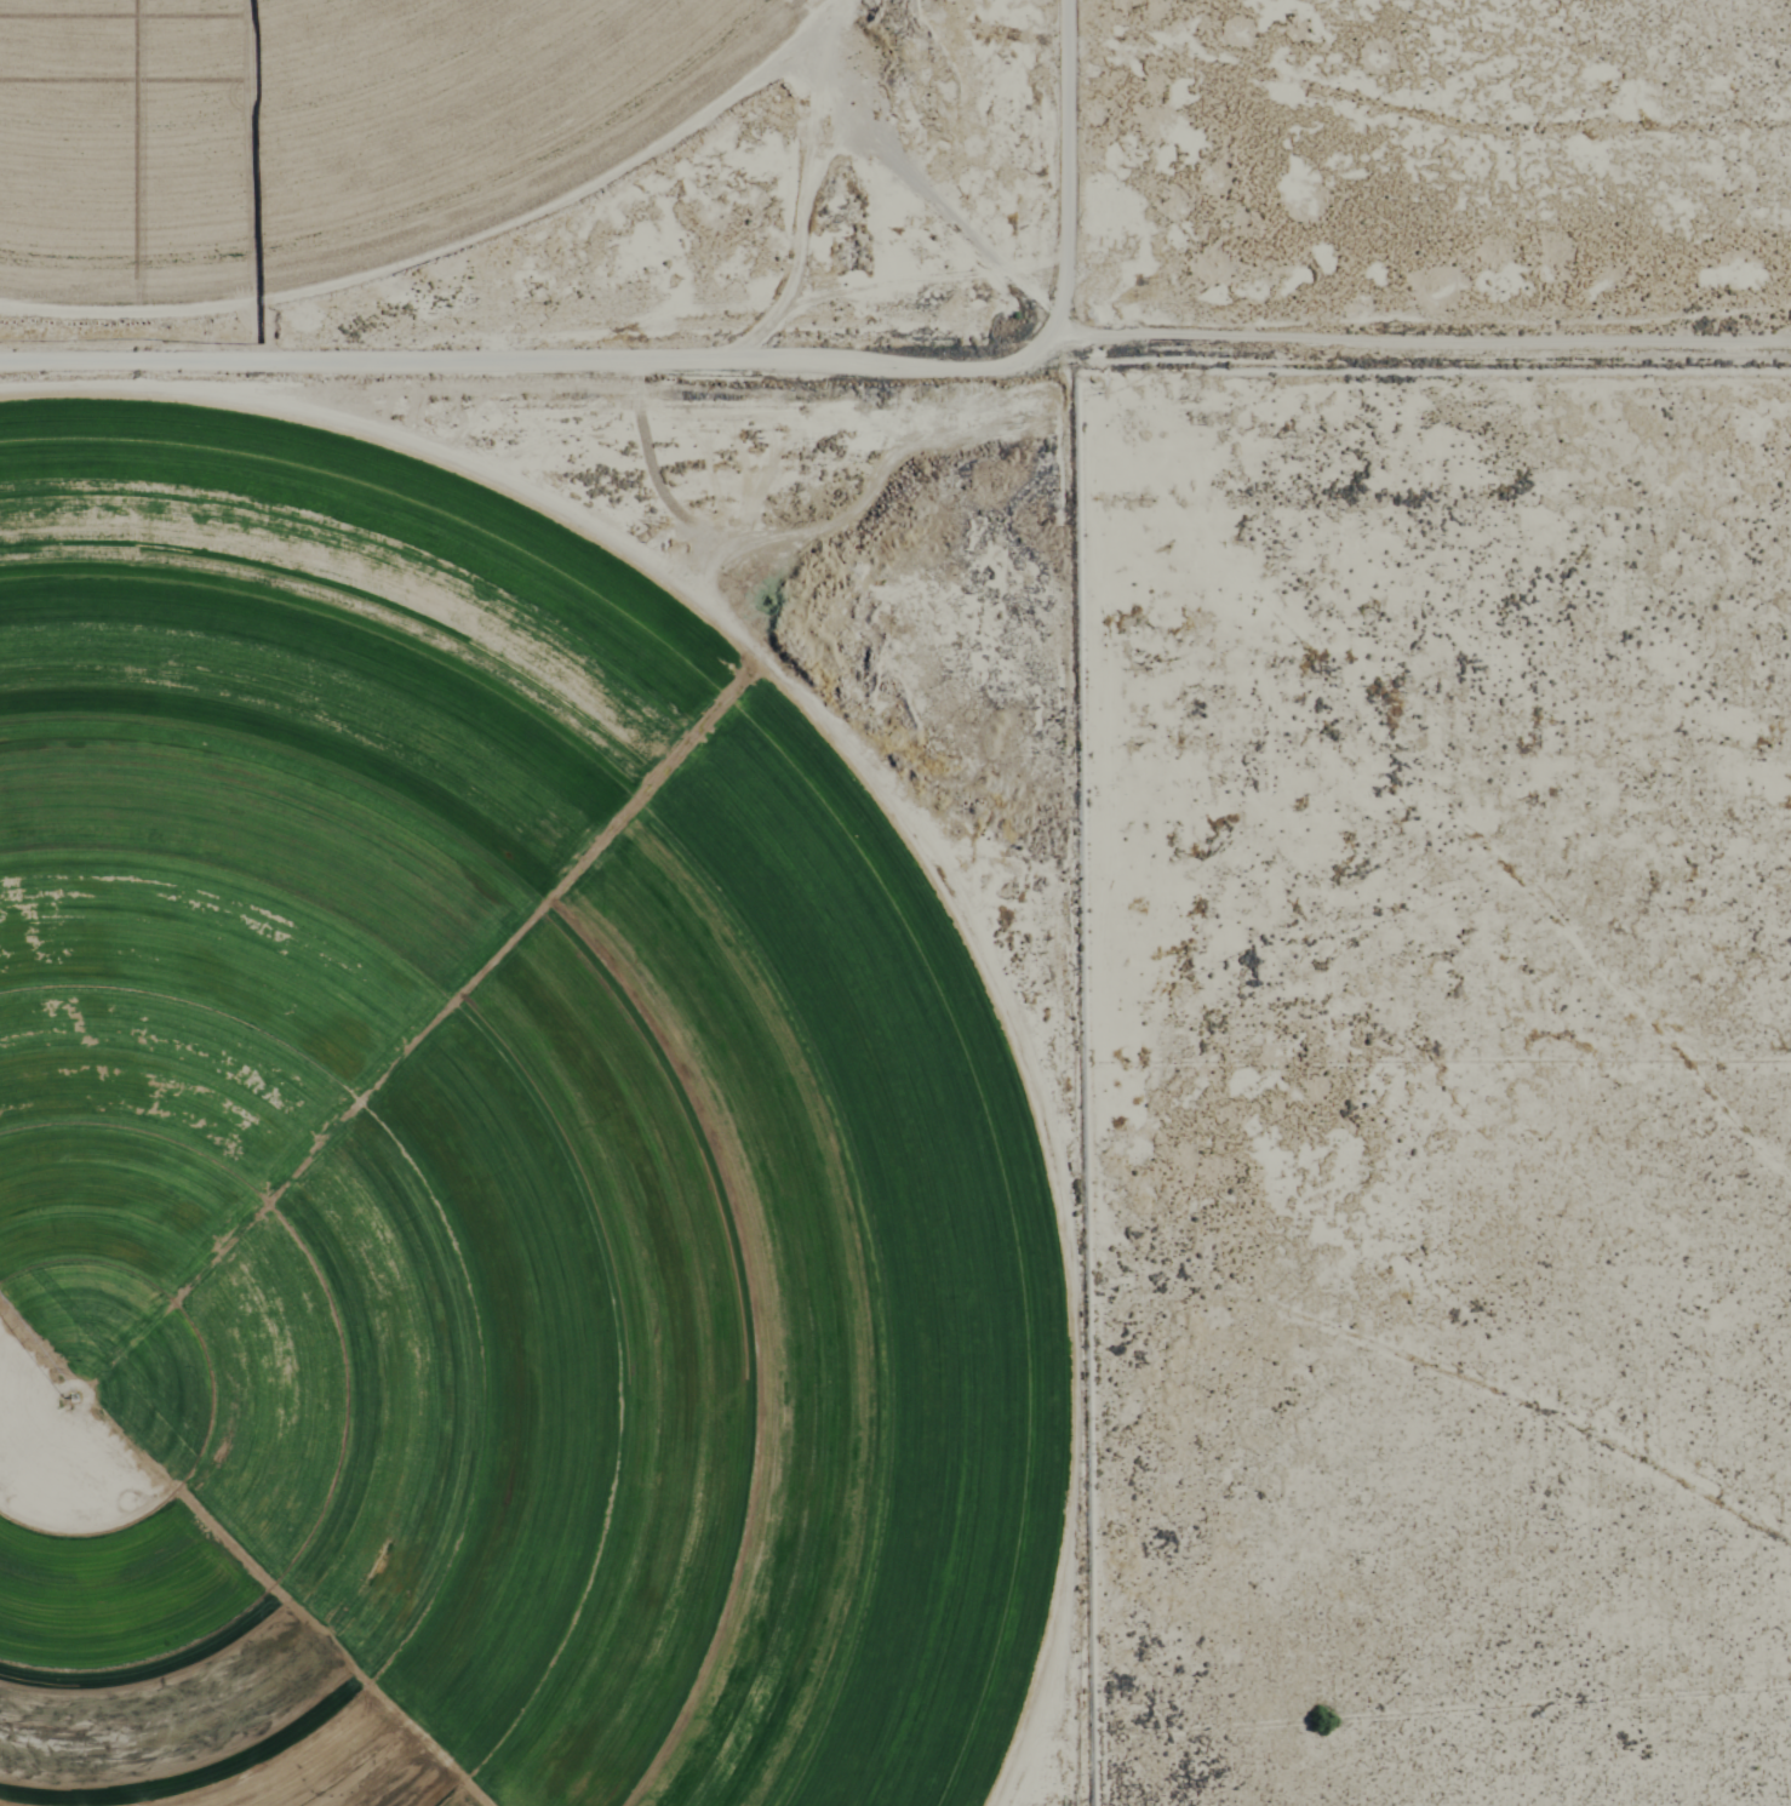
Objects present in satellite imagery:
crop: (310, 124)
road: (1063, 166)
road: (899, 367)
crop: (486, 1171)

